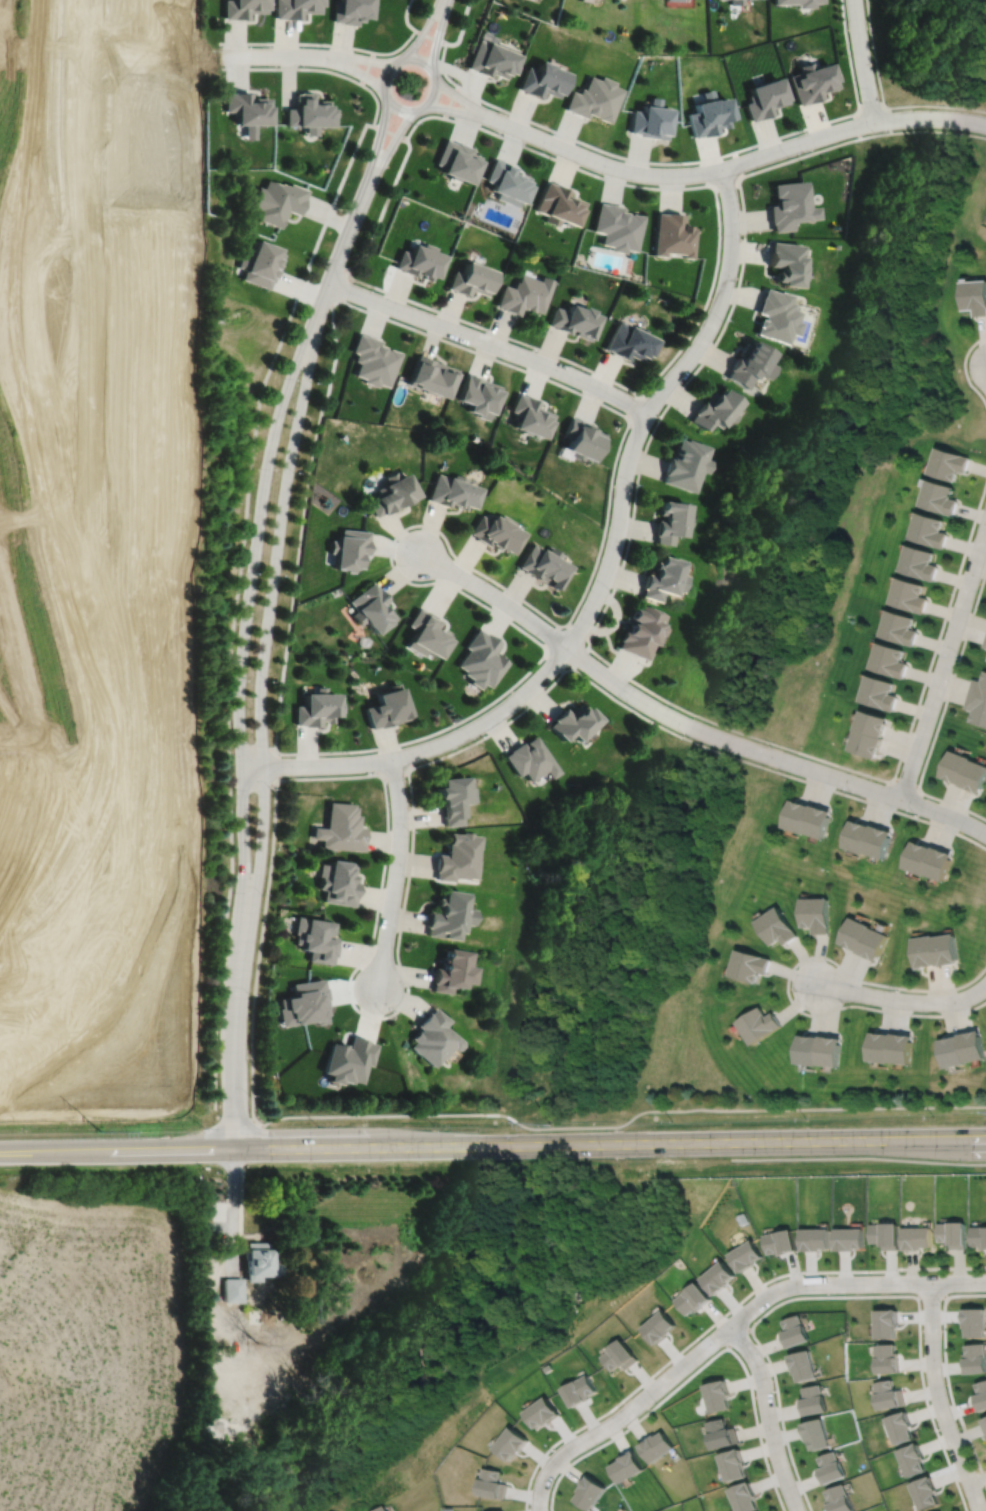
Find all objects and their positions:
building: (735, 1)
building: (805, 4)
building: (244, 7)
building: (297, 7)
building: (352, 10)
road: (464, 27)
road: (423, 33)
road: (440, 35)
road: (411, 36)
road: (432, 36)
road: (298, 43)
road: (849, 53)
road: (276, 55)
road: (363, 58)
building: (496, 58)
road: (863, 61)
road: (295, 68)
road: (368, 68)
road: (358, 70)
building: (546, 79)
building: (813, 80)
building: (765, 96)
building: (598, 98)
road: (453, 101)
road: (467, 101)
road: (883, 102)
road: (871, 105)
road: (396, 107)
building: (249, 110)
building: (310, 112)
road: (463, 112)
building: (709, 113)
building: (650, 119)
road: (889, 119)
road: (857, 124)
road: (391, 132)
road: (380, 141)
road: (392, 146)
road: (631, 158)
building: (460, 161)
road: (740, 162)
road: (738, 163)
road: (725, 180)
building: (510, 183)
road: (394, 187)
building: (278, 201)
building: (790, 204)
building: (560, 205)
road: (719, 224)
building: (617, 227)
building: (672, 235)
road: (342, 251)
building: (422, 261)
building: (786, 262)
building: (262, 263)
building: (474, 279)
road: (348, 288)
building: (523, 294)
building: (975, 295)
road: (438, 310)
building: (776, 316)
building: (573, 320)
road: (491, 343)
building: (629, 343)
building: (375, 361)
building: (749, 364)
road: (963, 369)
building: (434, 377)
building: (477, 396)
road: (653, 404)
building: (715, 410)
building: (529, 417)
building: (581, 439)
building: (949, 464)
building: (686, 465)
road: (613, 469)
building: (393, 492)
building: (452, 492)
building: (940, 498)
road: (302, 521)
building: (670, 522)
building: (930, 531)
building: (495, 533)
building: (349, 547)
building: (920, 564)
building: (543, 567)
road: (242, 578)
building: (662, 580)
road: (496, 595)
road: (610, 596)
building: (910, 596)
building: (372, 607)
building: (900, 628)
road: (577, 630)
building: (640, 632)
building: (428, 633)
road: (551, 635)
road: (247, 642)
building: (984, 642)
road: (266, 645)
building: (481, 658)
road: (580, 658)
building: (888, 659)
road: (944, 660)
road: (554, 661)
road: (520, 679)
building: (878, 691)
building: (977, 700)
building: (317, 707)
building: (388, 707)
road: (940, 714)
building: (571, 720)
building: (869, 732)
road: (423, 750)
road: (769, 755)
building: (529, 759)
road: (413, 766)
road: (279, 767)
building: (965, 770)
road: (395, 771)
road: (254, 783)
road: (904, 787)
building: (451, 797)
building: (806, 818)
building: (341, 828)
building: (866, 838)
building: (456, 856)
building: (927, 860)
road: (396, 873)
building: (338, 882)
building: (815, 914)
building: (445, 915)
building: (775, 927)
building: (315, 939)
building: (863, 939)
building: (935, 950)
road: (260, 951)
building: (749, 965)
building: (449, 971)
road: (788, 980)
road: (903, 1000)
building: (304, 1004)
building: (759, 1025)
building: (431, 1038)
building: (889, 1048)
building: (961, 1049)
building: (818, 1051)
road: (236, 1060)
building: (348, 1060)
road: (621, 1125)
road: (493, 1145)
road: (857, 1157)
road: (236, 1210)
building: (953, 1235)
building: (884, 1236)
building: (979, 1238)
building: (849, 1240)
building: (917, 1240)
building: (815, 1241)
building: (781, 1243)
building: (747, 1257)
building: (260, 1262)
street lamp: (901, 1273)
street lamp: (802, 1274)
building: (719, 1278)
building: (233, 1291)
road: (931, 1295)
road: (841, 1296)
building: (693, 1297)
street lamp: (940, 1302)
street lamp: (728, 1315)
road: (718, 1319)
building: (974, 1320)
building: (885, 1322)
building: (659, 1325)
road: (727, 1328)
building: (793, 1330)
road: (736, 1337)
crop: (90, 1352)
building: (619, 1354)
building: (886, 1357)
building: (975, 1357)
street lamp: (765, 1360)
building: (803, 1365)
road: (697, 1369)
road: (945, 1375)
building: (579, 1389)
building: (887, 1394)
building: (718, 1395)
building: (980, 1395)
building: (811, 1399)
road: (938, 1399)
street lamp: (654, 1402)
building: (541, 1411)
road: (767, 1416)
building: (984, 1421)
building: (899, 1426)
building: (721, 1433)
building: (815, 1433)
building: (985, 1434)
building: (510, 1442)
building: (656, 1446)
street lamp: (550, 1451)
building: (911, 1458)
building: (733, 1464)
building: (626, 1466)
building: (829, 1468)
street lamp: (771, 1471)
building: (491, 1483)
building: (924, 1491)
building: (589, 1492)
building: (744, 1497)
building: (838, 1499)
building: (382, 1509)

